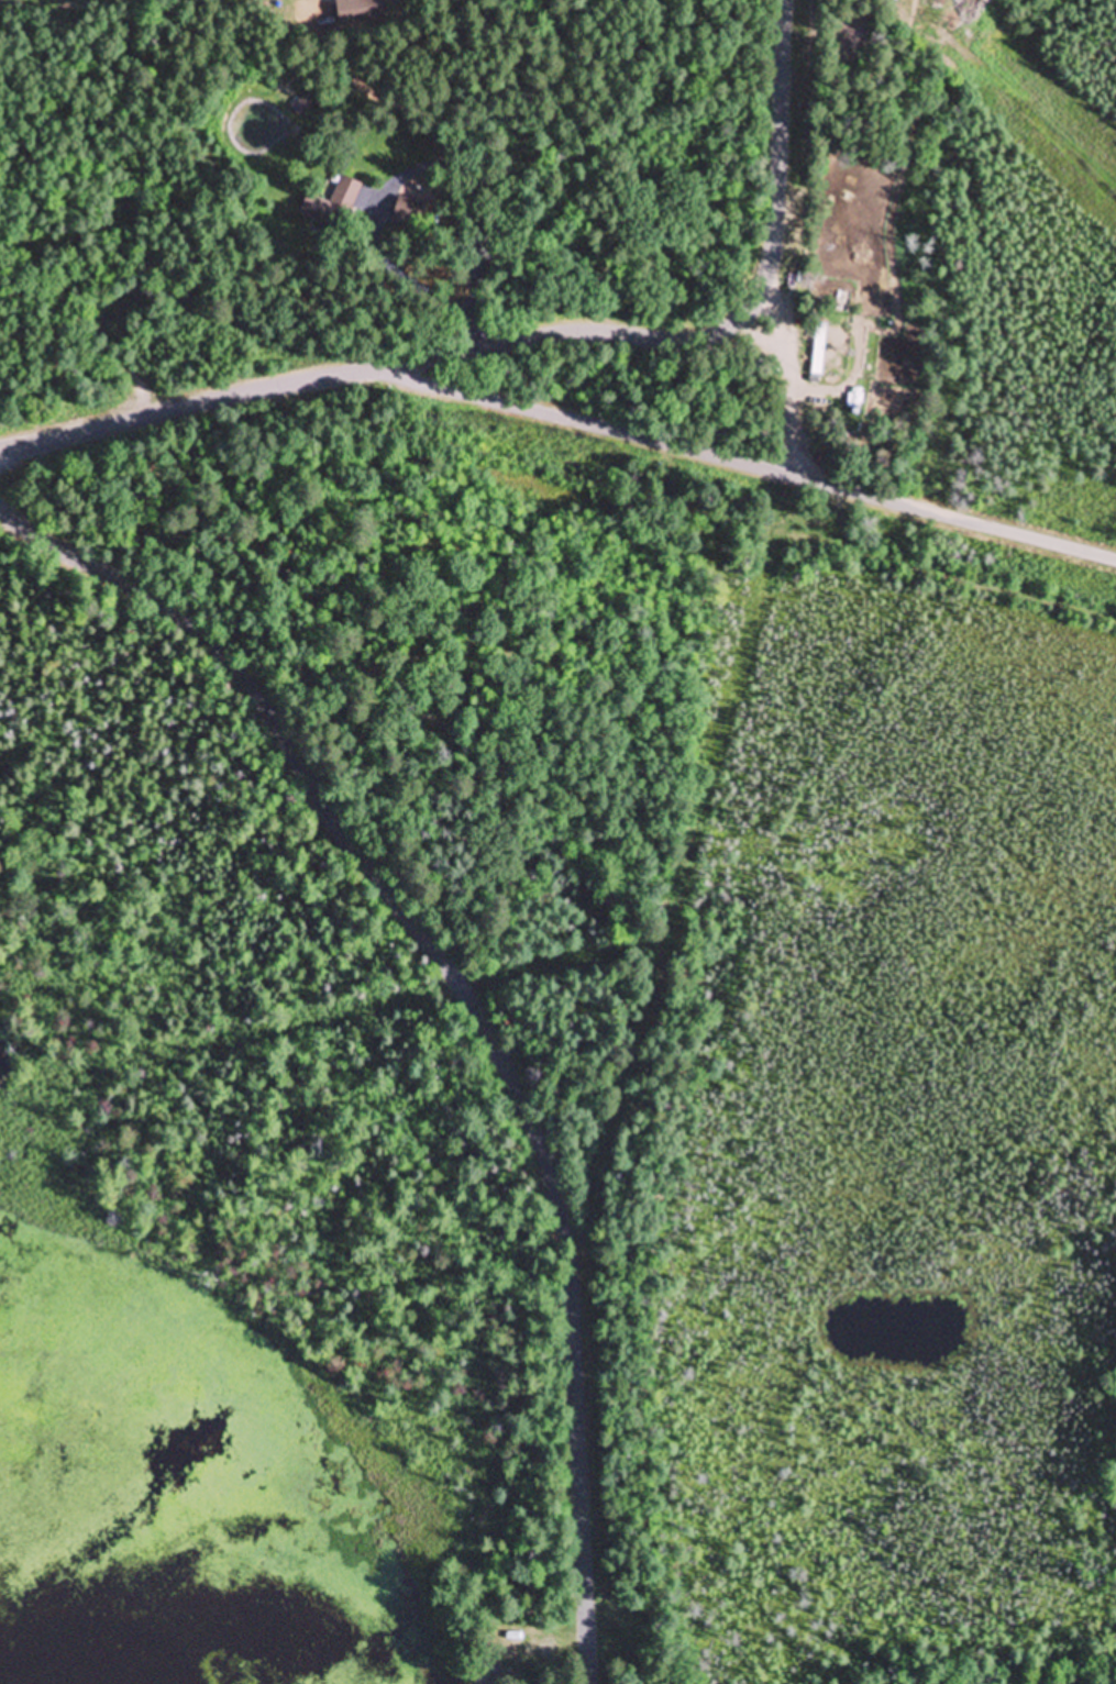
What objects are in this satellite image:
power tower: (960, 25)
building: (333, 206)
building: (408, 213)
road: (532, 341)
building: (817, 359)
road: (726, 400)
road: (744, 466)
road: (988, 588)
road: (475, 1004)

